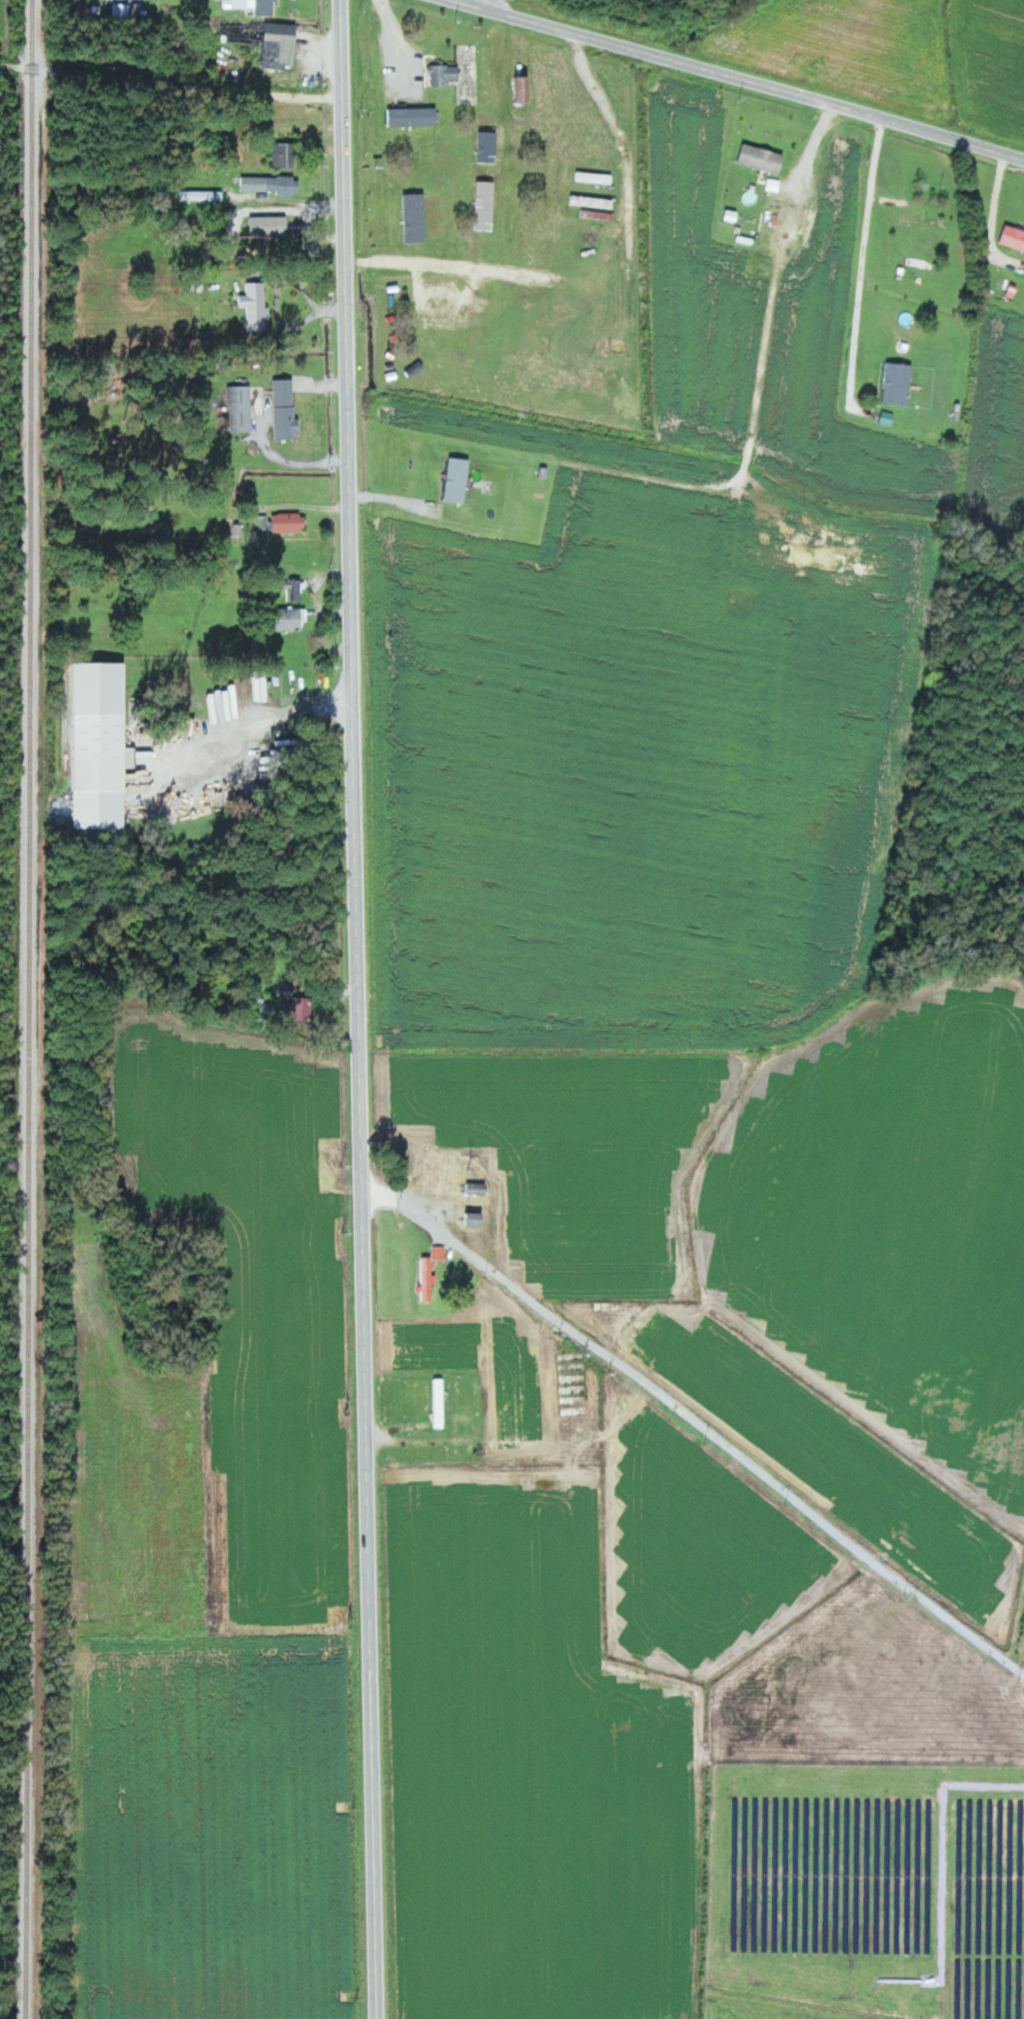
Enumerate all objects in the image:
road: (486, 2)
building: (255, 6)
building: (122, 10)
building: (282, 45)
building: (446, 74)
road: (173, 78)
road: (744, 79)
building: (414, 117)
building: (487, 131)
building: (287, 155)
road: (632, 156)
building: (762, 158)
building: (271, 184)
building: (484, 189)
building: (830, 189)
building: (198, 195)
road: (786, 197)
building: (427, 215)
building: (926, 219)
building: (1013, 236)
road: (858, 251)
building: (257, 306)
building: (899, 383)
building: (959, 400)
building: (241, 408)
building: (287, 411)
building: (458, 479)
building: (292, 521)
building: (293, 618)
building: (103, 745)
building: (300, 1006)
railway: (29, 1009)
road: (358, 1009)
building: (478, 1188)
building: (477, 1219)
building: (440, 1252)
building: (429, 1278)
road: (697, 1422)

